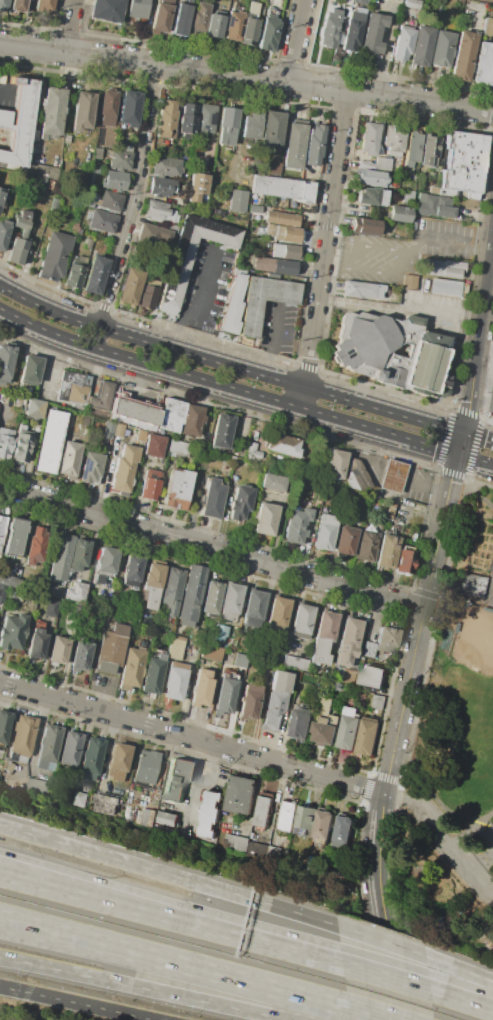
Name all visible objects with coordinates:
building: (3, 4)
building: (43, 5)
building: (411, 5)
building: (16, 6)
building: (253, 7)
building: (137, 8)
building: (334, 10)
building: (107, 11)
building: (271, 11)
building: (160, 16)
building: (181, 18)
building: (197, 21)
building: (214, 24)
road: (67, 26)
building: (232, 26)
building: (487, 27)
building: (353, 30)
building: (247, 31)
building: (328, 31)
building: (267, 34)
building: (372, 34)
road: (294, 40)
building: (402, 43)
building: (338, 45)
building: (422, 46)
building: (441, 48)
building: (462, 56)
building: (484, 65)
road: (246, 75)
road: (6, 91)
building: (107, 102)
building: (129, 109)
building: (51, 111)
building: (81, 111)
building: (187, 118)
building: (204, 119)
building: (166, 120)
building: (19, 122)
building: (252, 123)
building: (227, 126)
building: (272, 130)
building: (33, 135)
building: (66, 139)
building: (369, 139)
building: (393, 140)
building: (314, 145)
building: (294, 146)
building: (412, 146)
building: (122, 147)
building: (429, 150)
building: (97, 153)
building: (120, 160)
building: (381, 163)
building: (363, 164)
building: (462, 164)
building: (165, 166)
building: (0, 177)
building: (371, 178)
building: (78, 179)
building: (115, 180)
building: (2, 181)
building: (36, 184)
building: (50, 185)
building: (161, 187)
building: (196, 187)
building: (283, 188)
building: (433, 190)
building: (1, 194)
building: (371, 196)
road: (136, 197)
building: (407, 197)
building: (112, 200)
building: (237, 200)
building: (265, 201)
building: (89, 203)
building: (54, 204)
building: (434, 206)
building: (254, 209)
building: (312, 210)
building: (159, 211)
building: (88, 213)
building: (400, 214)
building: (281, 218)
building: (102, 221)
building: (71, 223)
building: (83, 223)
building: (365, 226)
building: (57, 228)
building: (78, 232)
building: (284, 233)
building: (3, 234)
building: (154, 234)
road: (326, 238)
building: (18, 239)
road: (446, 239)
building: (88, 242)
building: (286, 251)
building: (54, 256)
building: (190, 257)
road: (341, 265)
building: (273, 266)
building: (444, 268)
building: (76, 272)
building: (95, 275)
building: (409, 281)
building: (129, 287)
building: (444, 288)
building: (365, 290)
building: (146, 297)
road: (198, 303)
road: (408, 305)
building: (232, 306)
building: (414, 320)
building: (250, 321)
road: (479, 333)
road: (96, 338)
building: (434, 338)
road: (273, 341)
road: (485, 349)
building: (387, 352)
building: (5, 362)
road: (228, 365)
road: (46, 366)
building: (30, 369)
building: (443, 380)
road: (483, 380)
road: (226, 386)
building: (73, 388)
road: (303, 397)
building: (19, 399)
building: (101, 400)
road: (492, 403)
building: (35, 408)
building: (134, 412)
building: (171, 415)
building: (191, 420)
building: (108, 429)
building: (118, 430)
traffic signals: (464, 430)
building: (221, 431)
road: (478, 434)
building: (49, 441)
building: (5, 442)
road: (460, 442)
building: (21, 444)
building: (283, 445)
building: (153, 446)
building: (178, 447)
building: (251, 451)
building: (322, 455)
traffic signals: (457, 455)
building: (68, 458)
road: (474, 460)
building: (334, 464)
building: (90, 468)
building: (123, 468)
road: (398, 475)
building: (356, 477)
building: (393, 477)
road: (470, 481)
building: (272, 483)
building: (150, 485)
building: (177, 490)
building: (213, 499)
building: (240, 502)
building: (390, 511)
building: (265, 519)
building: (1, 526)
building: (295, 526)
building: (324, 531)
building: (14, 536)
building: (345, 540)
building: (365, 545)
building: (34, 547)
road: (211, 547)
building: (387, 551)
building: (78, 555)
building: (59, 557)
building: (106, 561)
building: (405, 561)
building: (131, 570)
building: (98, 579)
building: (8, 582)
building: (470, 583)
building: (152, 584)
building: (172, 587)
road: (490, 588)
building: (46, 590)
building: (75, 592)
building: (192, 592)
building: (211, 597)
building: (229, 602)
building: (51, 608)
building: (254, 608)
building: (114, 610)
building: (277, 614)
building: (134, 616)
building: (301, 621)
road: (419, 622)
building: (12, 629)
building: (221, 633)
building: (323, 637)
building: (387, 637)
building: (37, 640)
building: (348, 642)
building: (175, 647)
building: (110, 648)
building: (231, 648)
building: (368, 649)
building: (58, 651)
building: (210, 652)
building: (80, 654)
building: (239, 660)
building: (294, 662)
building: (131, 668)
building: (153, 675)
building: (372, 676)
building: (348, 677)
building: (175, 681)
building: (280, 682)
building: (334, 685)
building: (201, 689)
building: (225, 693)
building: (378, 701)
building: (249, 703)
park: (468, 709)
building: (274, 711)
park: (461, 713)
building: (301, 722)
building: (326, 723)
building: (4, 725)
building: (348, 729)
building: (367, 735)
road: (192, 736)
building: (22, 738)
building: (48, 746)
building: (70, 749)
building: (91, 759)
building: (117, 761)
building: (146, 767)
building: (176, 780)
building: (37, 786)
road: (196, 786)
building: (240, 794)
building: (79, 798)
building: (105, 803)
road: (250, 804)
building: (263, 811)
building: (209, 812)
road: (419, 814)
building: (286, 816)
building: (145, 817)
building: (166, 818)
building: (303, 819)
road: (479, 825)
building: (322, 827)
building: (343, 828)
parking lot: (456, 832)
road: (471, 840)
building: (235, 841)
building: (273, 853)
building: (311, 863)
road: (471, 864)
building: (342, 872)
road: (171, 874)
road: (108, 882)
road: (106, 899)
road: (378, 905)
road: (21, 922)
road: (21, 923)
road: (385, 941)
road: (278, 945)
road: (196, 968)
road: (461, 968)
road: (69, 972)
road: (388, 977)
road: (462, 1000)
road: (77, 1003)
road: (220, 1003)
road: (369, 1014)

